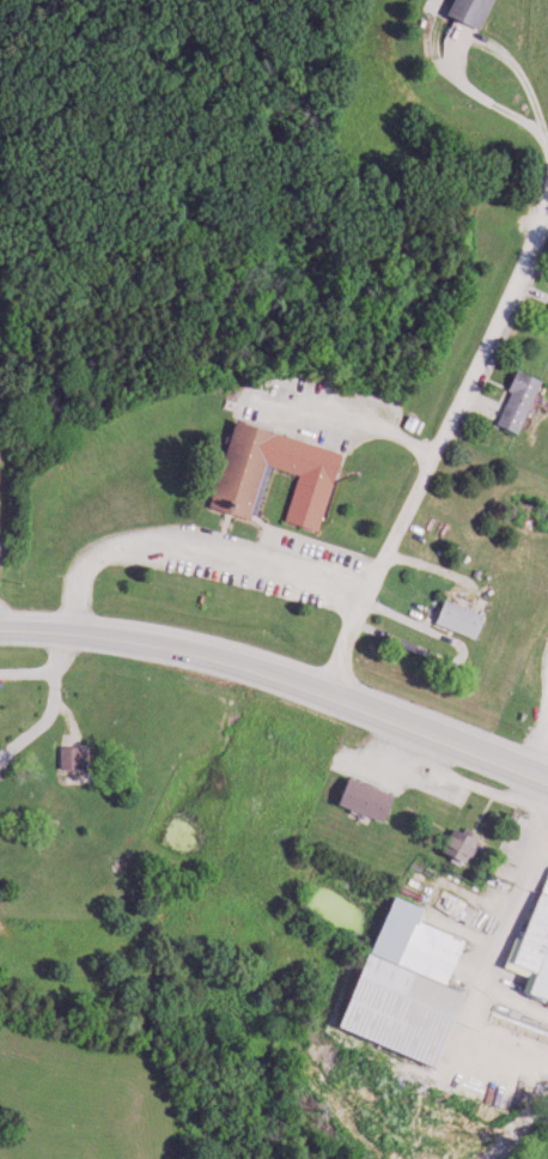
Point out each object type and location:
building: (465, 13)
building: (547, 309)
building: (511, 403)
road: (434, 448)
building: (272, 477)
road: (190, 544)
building: (452, 619)
road: (281, 676)
building: (66, 758)
building: (360, 800)
building: (452, 844)
building: (451, 906)
building: (531, 947)
building: (398, 983)

